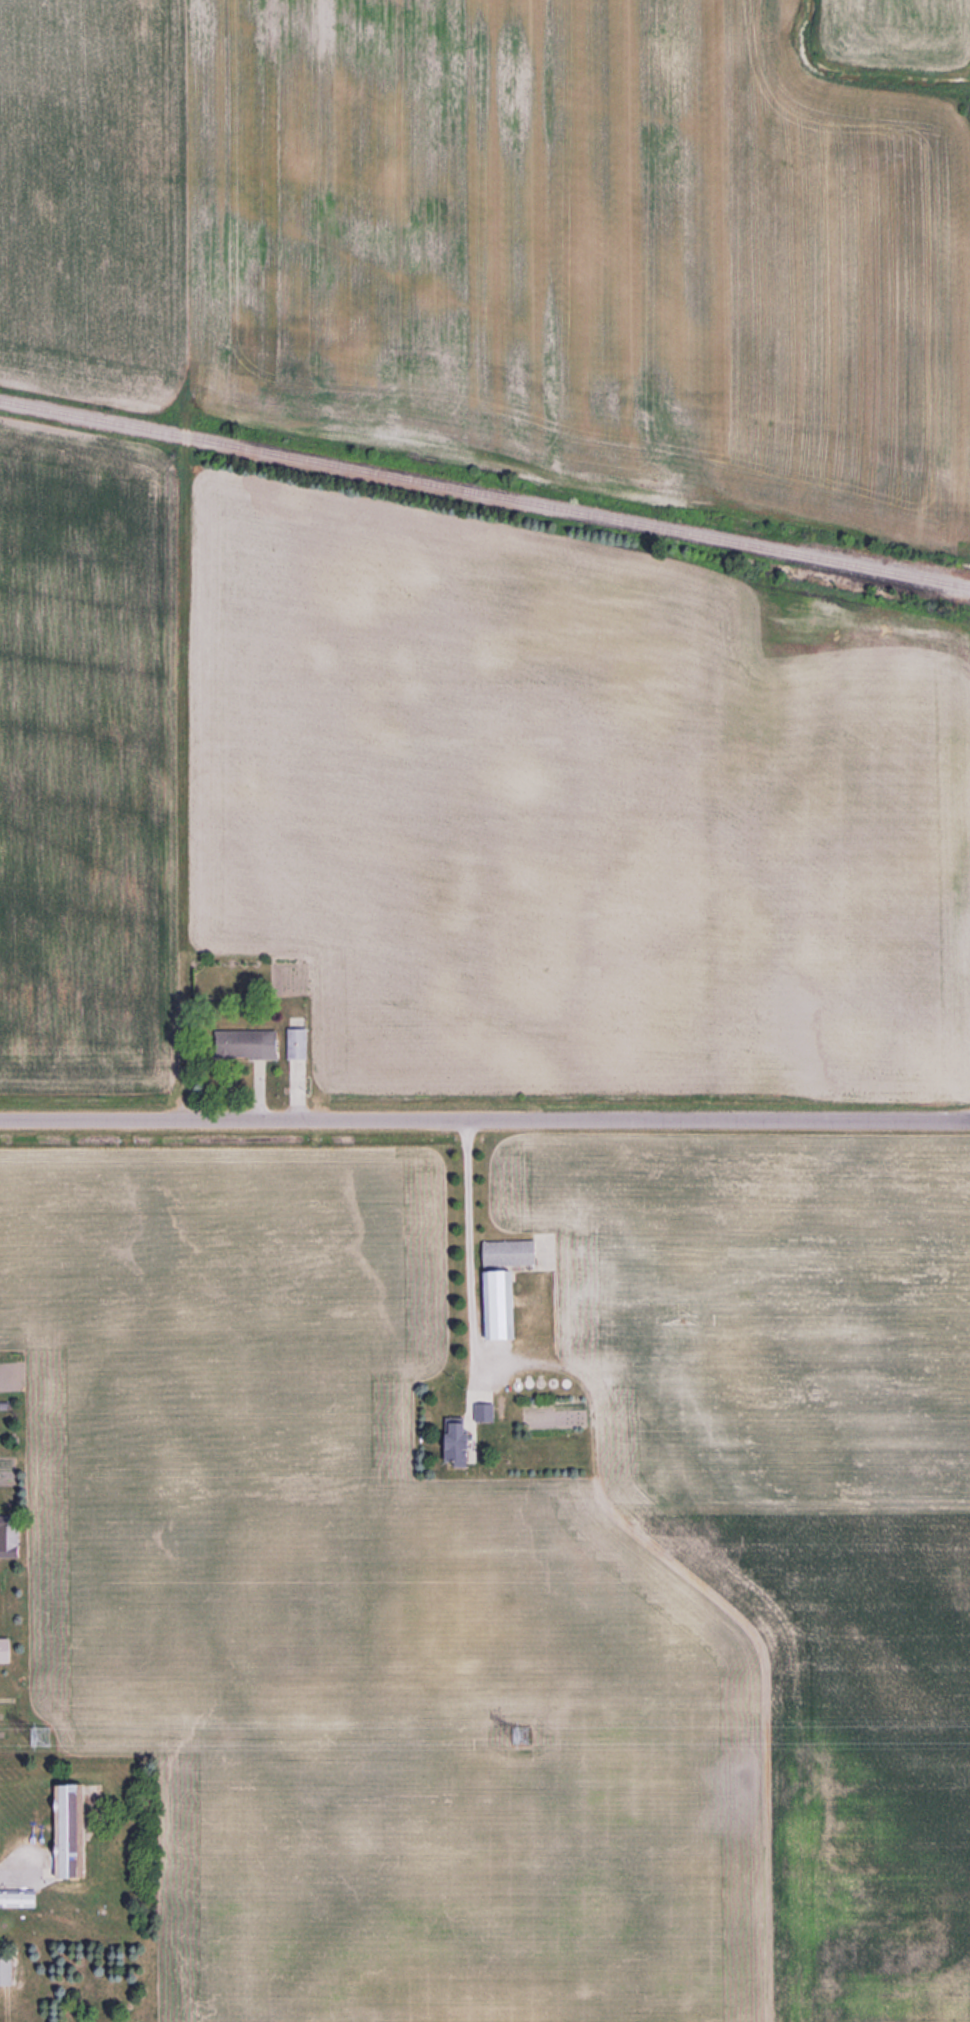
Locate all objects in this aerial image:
railway: (485, 494)
building: (300, 1043)
building: (246, 1044)
road: (485, 1120)
building: (512, 1253)
building: (504, 1304)
building: (463, 1439)
building: (10, 1542)
building: (8, 1651)
power tower: (50, 1738)
power tower: (518, 1738)
building: (73, 1832)
road: (18, 1861)
building: (14, 1899)
building: (7, 1970)

